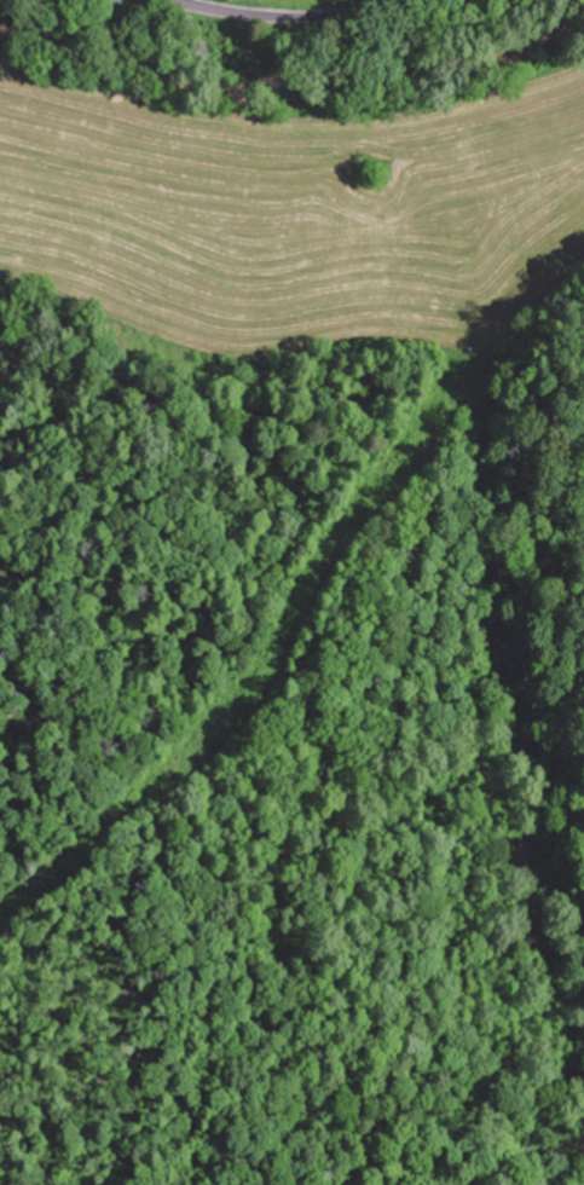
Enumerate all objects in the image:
road: (218, 6)
road: (310, 16)

